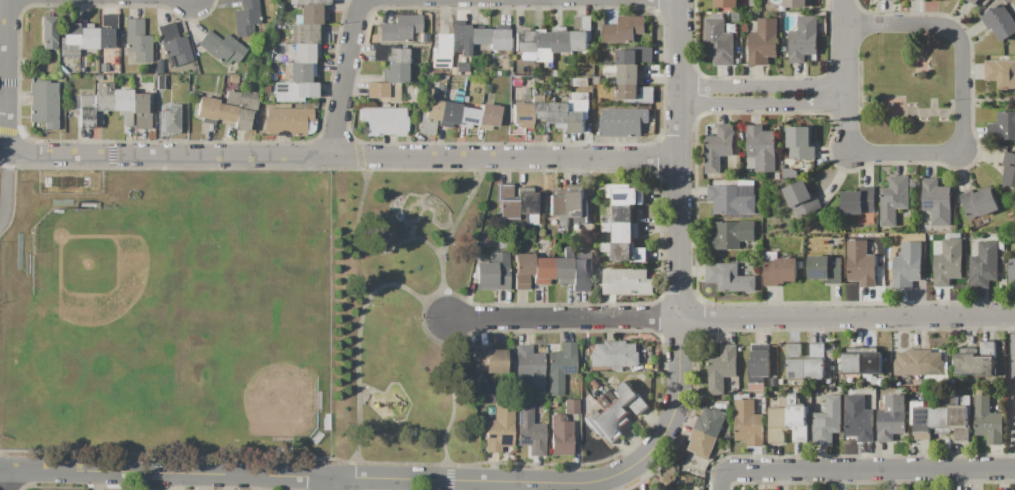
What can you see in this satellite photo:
road: (525, 0)
building: (886, 0)
building: (973, 1)
building: (309, 2)
building: (752, 3)
building: (726, 4)
building: (794, 4)
building: (308, 15)
building: (246, 17)
building: (1000, 22)
building: (400, 28)
building: (745, 28)
building: (623, 29)
building: (49, 32)
building: (582, 33)
building: (304, 34)
building: (88, 36)
building: (479, 36)
building: (460, 39)
building: (498, 39)
building: (803, 39)
building: (562, 40)
building: (138, 41)
building: (524, 42)
building: (718, 42)
building: (763, 43)
building: (174, 44)
road: (853, 47)
building: (221, 48)
building: (543, 48)
building: (441, 52)
building: (303, 54)
building: (633, 54)
building: (746, 56)
building: (393, 62)
building: (585, 63)
building: (462, 67)
building: (100, 72)
building: (300, 73)
building: (1001, 73)
building: (453, 74)
road: (6, 77)
building: (97, 78)
building: (234, 79)
road: (352, 79)
building: (548, 79)
building: (539, 81)
building: (628, 81)
building: (159, 82)
building: (515, 82)
building: (441, 88)
park: (906, 88)
building: (266, 90)
road: (766, 90)
building: (294, 91)
building: (383, 92)
road: (959, 92)
building: (647, 95)
building: (103, 96)
building: (464, 99)
road: (987, 101)
building: (44, 103)
building: (123, 104)
road: (767, 105)
building: (84, 107)
building: (228, 107)
building: (540, 107)
building: (207, 109)
building: (245, 110)
building: (140, 112)
building: (579, 112)
building: (448, 115)
building: (522, 115)
building: (561, 115)
building: (488, 116)
building: (430, 117)
building: (467, 118)
building: (170, 119)
building: (288, 121)
building: (384, 121)
building: (624, 123)
road: (852, 125)
building: (1002, 126)
building: (801, 144)
building: (719, 147)
building: (761, 149)
road: (343, 158)
road: (681, 167)
building: (1009, 169)
building: (789, 173)
building: (778, 177)
road: (6, 189)
building: (628, 197)
building: (733, 198)
building: (802, 198)
building: (1001, 198)
building: (896, 199)
building: (937, 201)
building: (979, 203)
building: (516, 204)
building: (860, 205)
building: (567, 207)
road: (460, 212)
building: (624, 214)
building: (606, 219)
building: (607, 227)
building: (626, 232)
building: (730, 234)
building: (955, 235)
road: (367, 246)
building: (624, 252)
building: (887, 253)
building: (861, 263)
building: (948, 263)
building: (800, 265)
building: (908, 265)
building: (984, 265)
building: (563, 267)
building: (779, 269)
building: (826, 269)
building: (543, 270)
road: (441, 271)
building: (521, 271)
building: (1012, 271)
building: (493, 272)
park: (103, 274)
building: (580, 275)
building: (729, 277)
building: (627, 281)
road: (423, 301)
park: (236, 313)
road: (563, 316)
road: (848, 317)
building: (512, 340)
building: (540, 341)
road: (357, 345)
road: (678, 350)
building: (583, 351)
building: (616, 355)
building: (490, 358)
building: (977, 360)
building: (862, 361)
building: (806, 362)
building: (919, 363)
building: (759, 364)
building: (560, 367)
building: (722, 368)
building: (529, 369)
park: (262, 380)
building: (781, 382)
building: (924, 382)
building: (593, 384)
building: (755, 387)
building: (841, 389)
building: (913, 389)
building: (594, 393)
road: (1009, 393)
building: (626, 395)
building: (589, 399)
building: (601, 401)
road: (451, 402)
building: (552, 404)
building: (571, 406)
road: (675, 412)
building: (616, 413)
building: (858, 417)
building: (892, 418)
building: (941, 419)
building: (921, 420)
building: (959, 420)
building: (987, 420)
building: (828, 421)
building: (789, 422)
building: (749, 423)
building: (602, 426)
building: (499, 429)
building: (530, 432)
building: (706, 432)
building: (584, 437)
building: (561, 438)
road: (866, 470)
road: (330, 477)
road: (718, 480)
road: (9, 481)
road: (337, 484)

